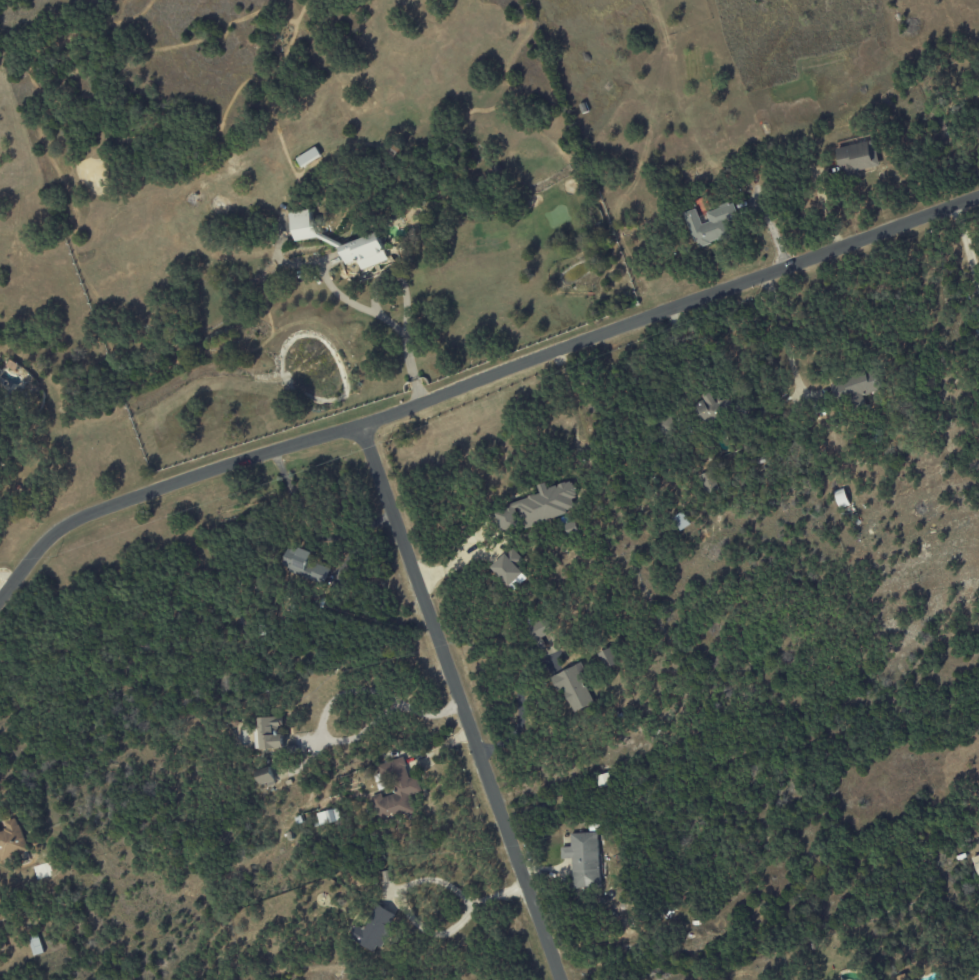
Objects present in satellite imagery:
building: (308, 157)
building: (857, 157)
building: (713, 224)
building: (302, 225)
building: (364, 251)
road: (385, 318)
road: (782, 335)
road: (477, 380)
building: (853, 386)
building: (708, 408)
building: (708, 482)
building: (841, 499)
building: (538, 507)
building: (680, 521)
road: (310, 529)
building: (300, 565)
building: (508, 566)
road: (2, 586)
building: (536, 633)
building: (607, 657)
building: (574, 687)
road: (460, 701)
building: (269, 734)
road: (344, 739)
building: (395, 790)
building: (328, 816)
building: (11, 839)
building: (583, 859)
building: (976, 863)
road: (410, 881)
building: (1, 902)
building: (373, 928)
building: (35, 945)
building: (959, 979)

